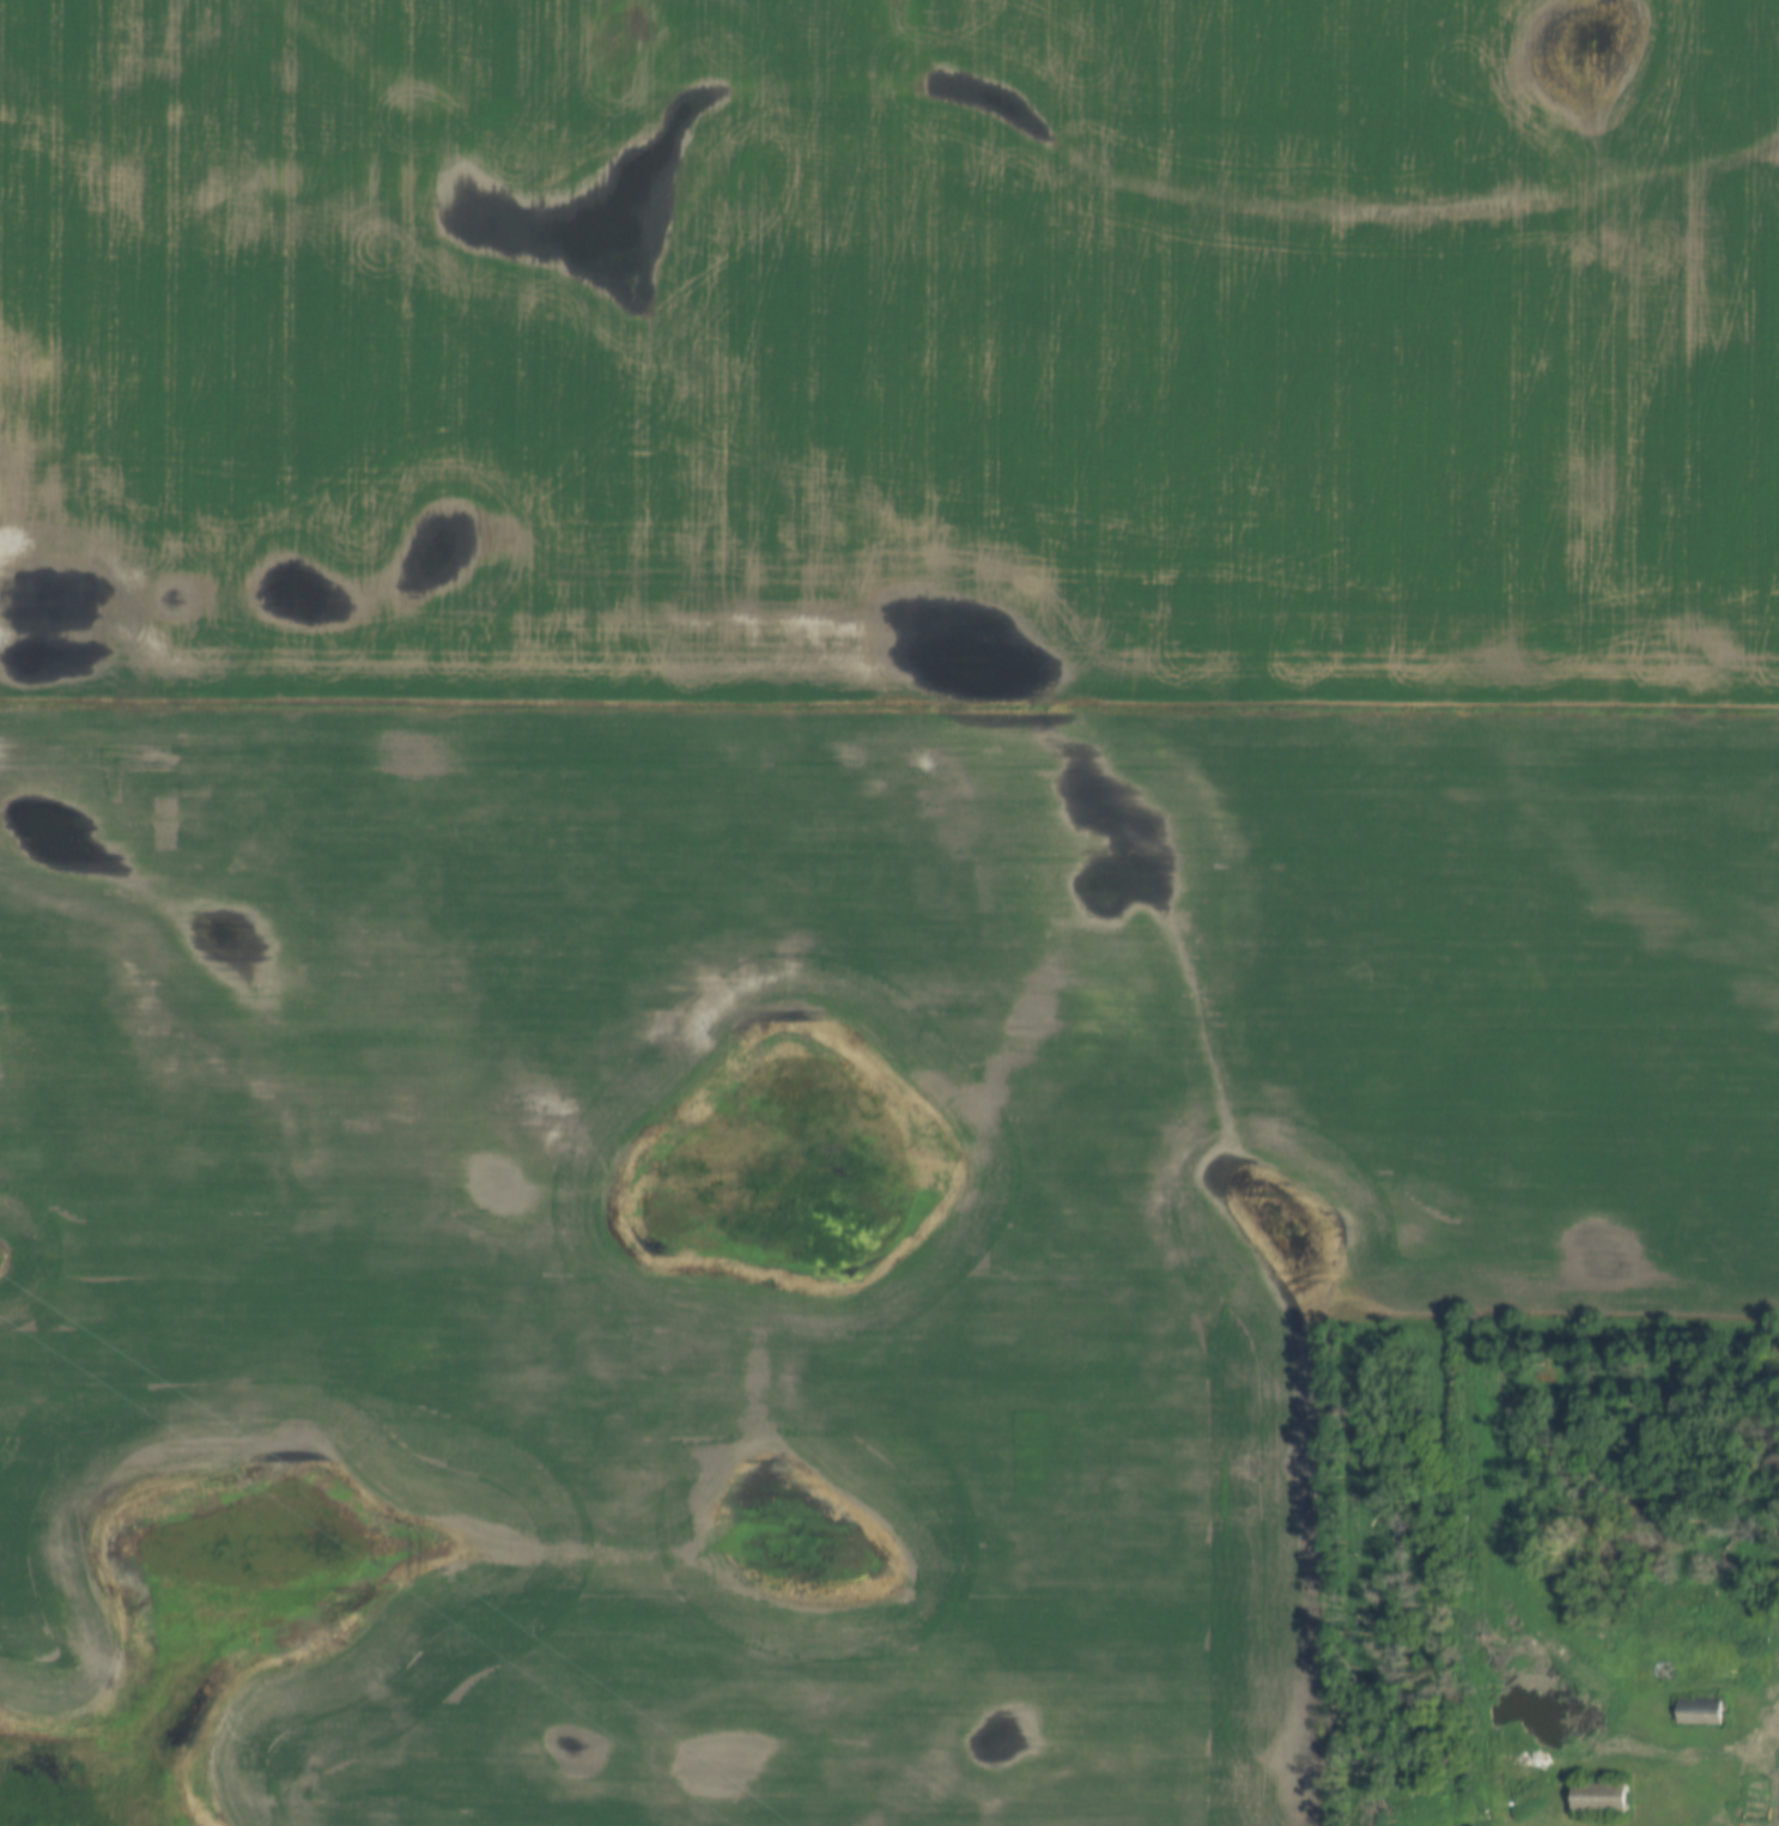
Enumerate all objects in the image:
building: (1696, 1711)
building: (1597, 1797)

